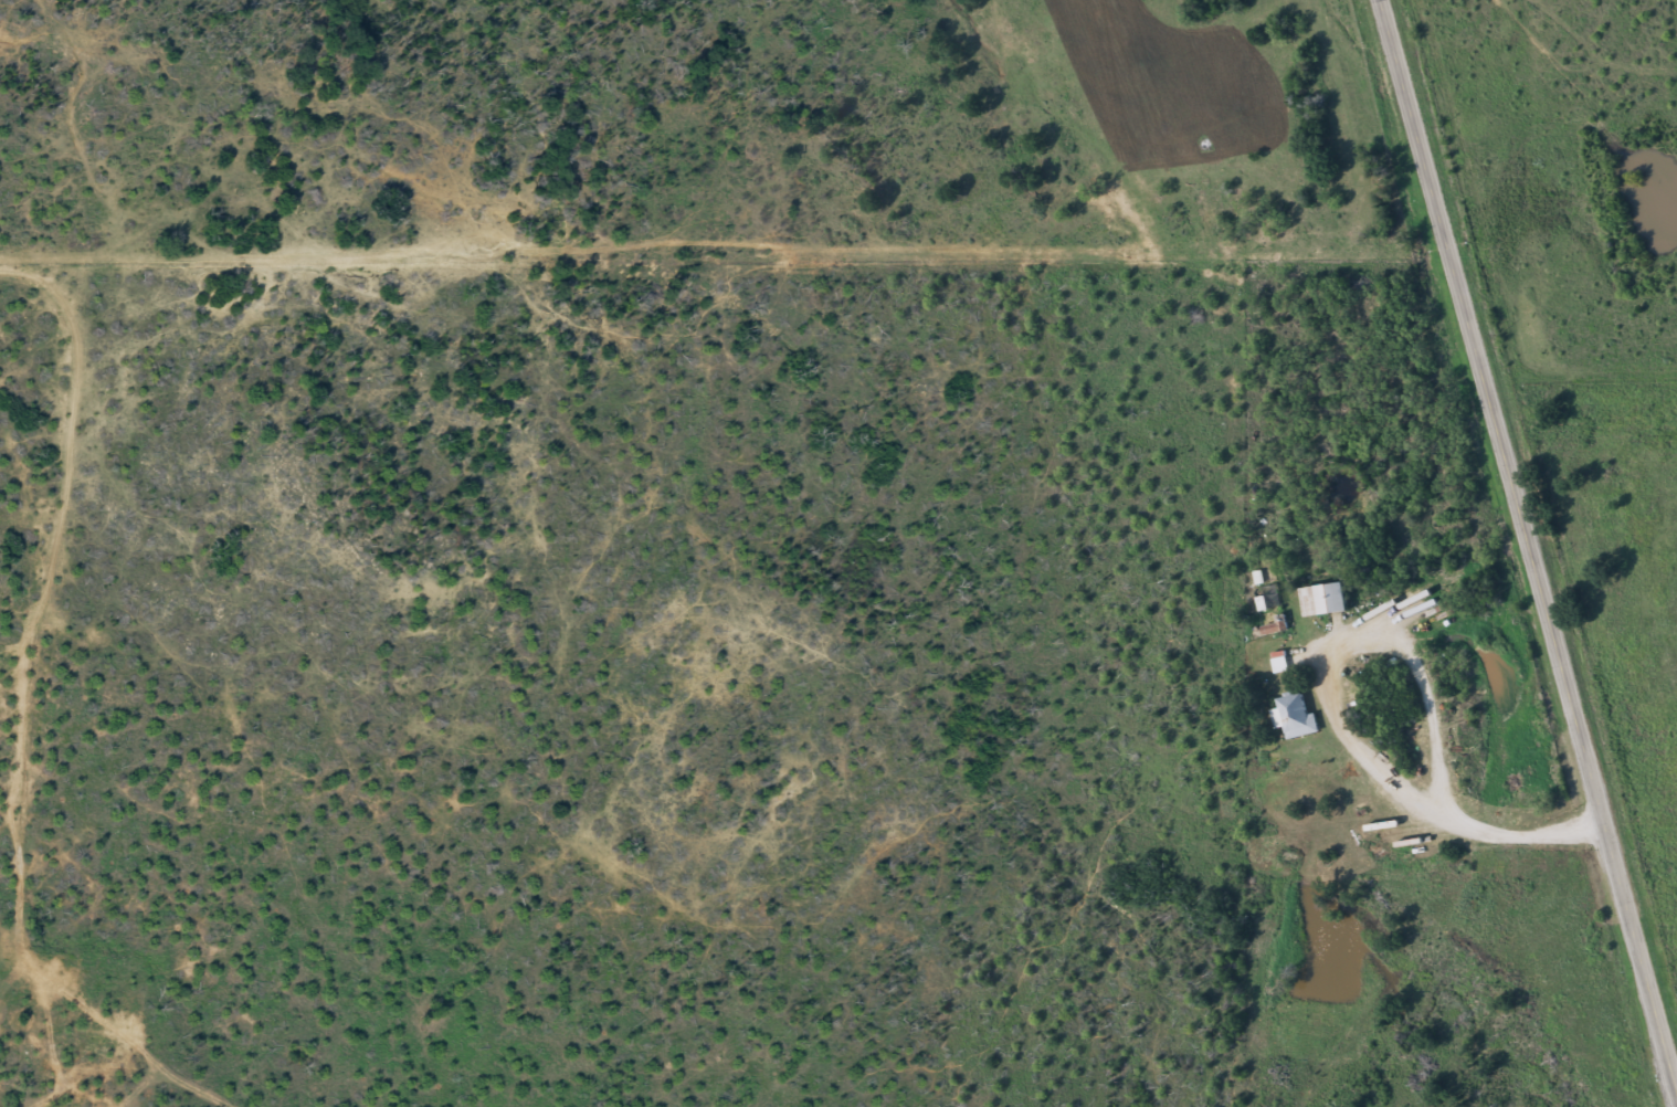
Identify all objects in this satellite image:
road: (1536, 525)
building: (1322, 604)
building: (1294, 720)

